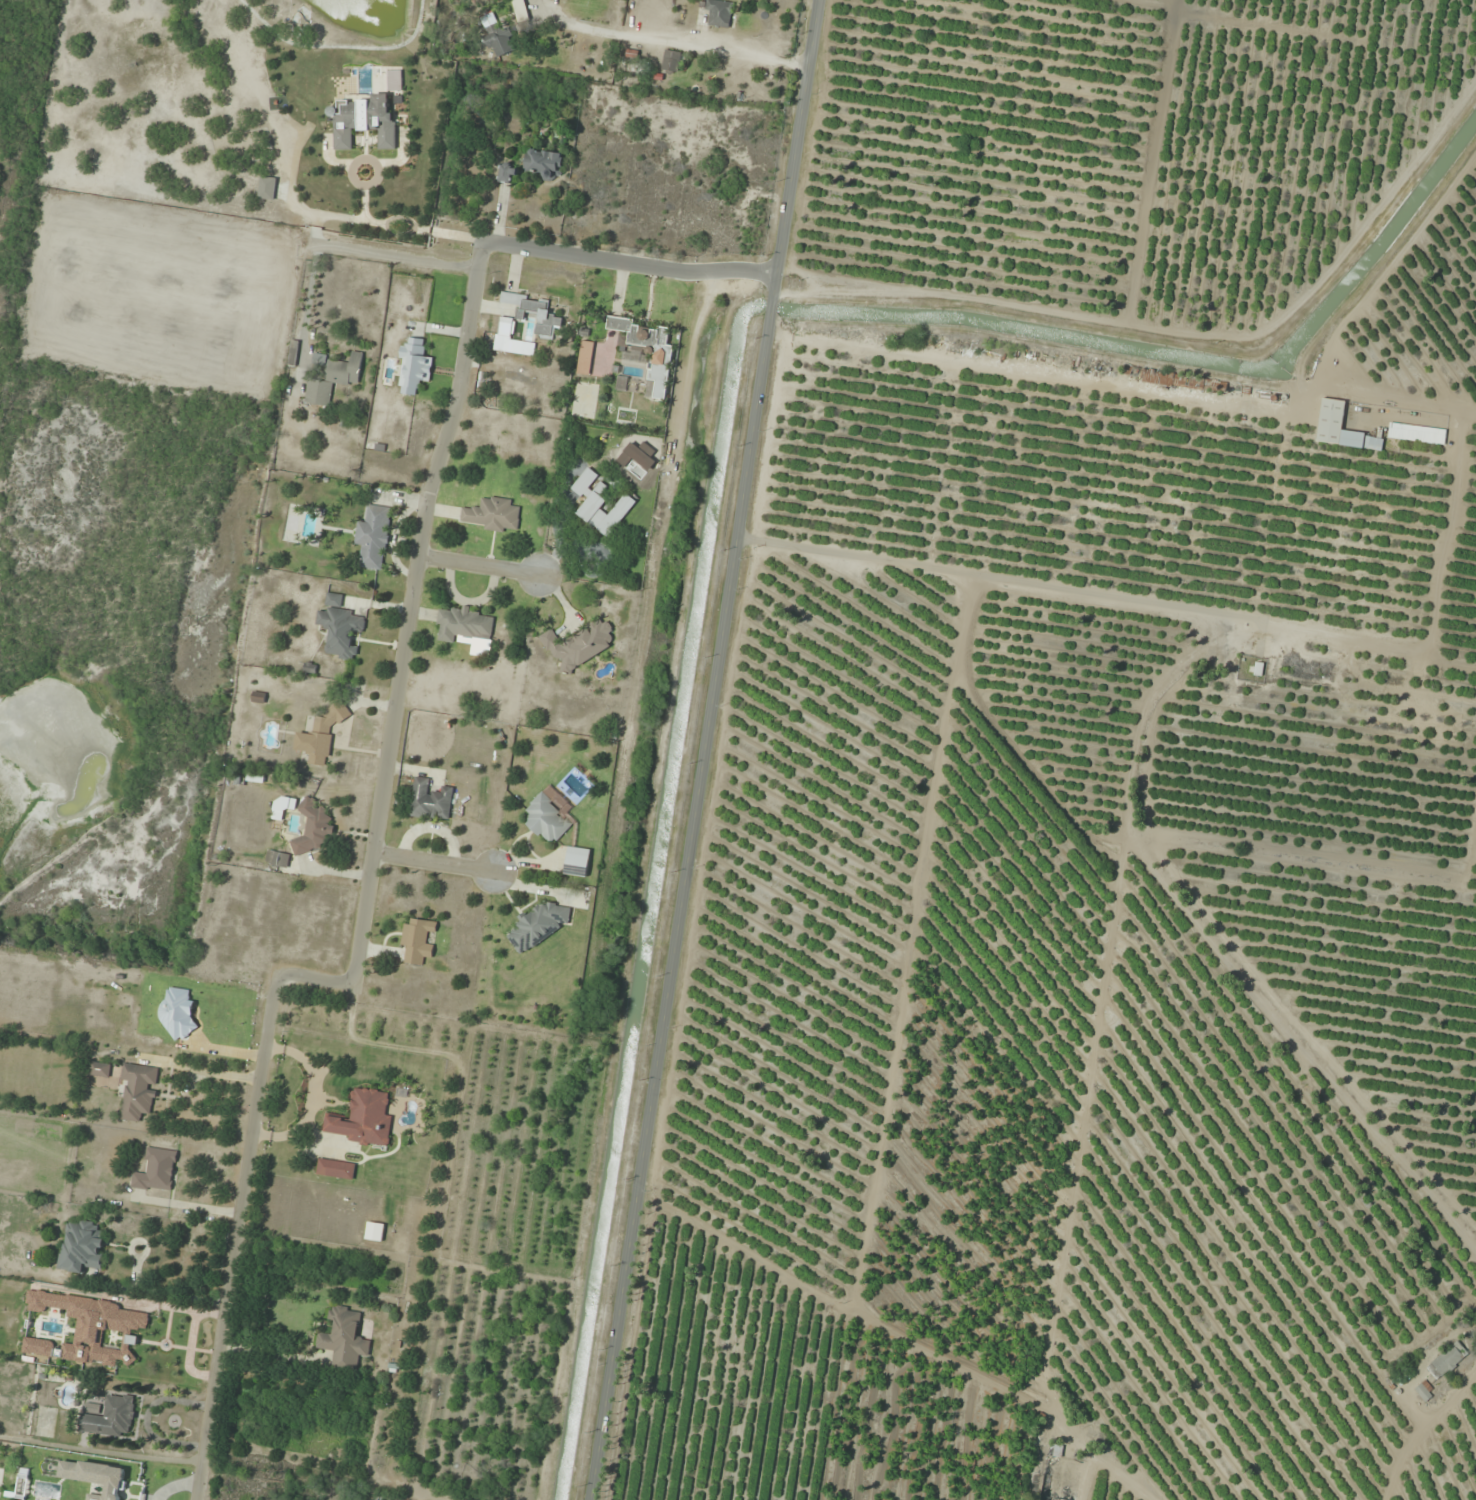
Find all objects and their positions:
building: (521, 10)
building: (719, 13)
building: (491, 20)
building: (502, 42)
building: (671, 61)
building: (395, 80)
building: (364, 120)
building: (544, 164)
building: (510, 172)
building: (268, 188)
road: (632, 268)
building: (543, 314)
building: (641, 334)
building: (294, 353)
building: (415, 367)
building: (333, 377)
building: (1331, 416)
building: (1417, 433)
building: (492, 515)
building: (374, 537)
road: (481, 572)
road: (413, 613)
building: (462, 625)
building: (340, 628)
building: (580, 646)
building: (322, 735)
road: (707, 749)
building: (430, 800)
building: (283, 806)
building: (548, 819)
building: (313, 826)
building: (278, 859)
building: (577, 862)
building: (539, 925)
building: (417, 939)
building: (100, 1069)
building: (139, 1091)
building: (365, 1119)
building: (336, 1169)
building: (156, 1171)
building: (375, 1231)
building: (81, 1246)
building: (344, 1340)
building: (1447, 1361)
building: (1424, 1392)
building: (110, 1416)

